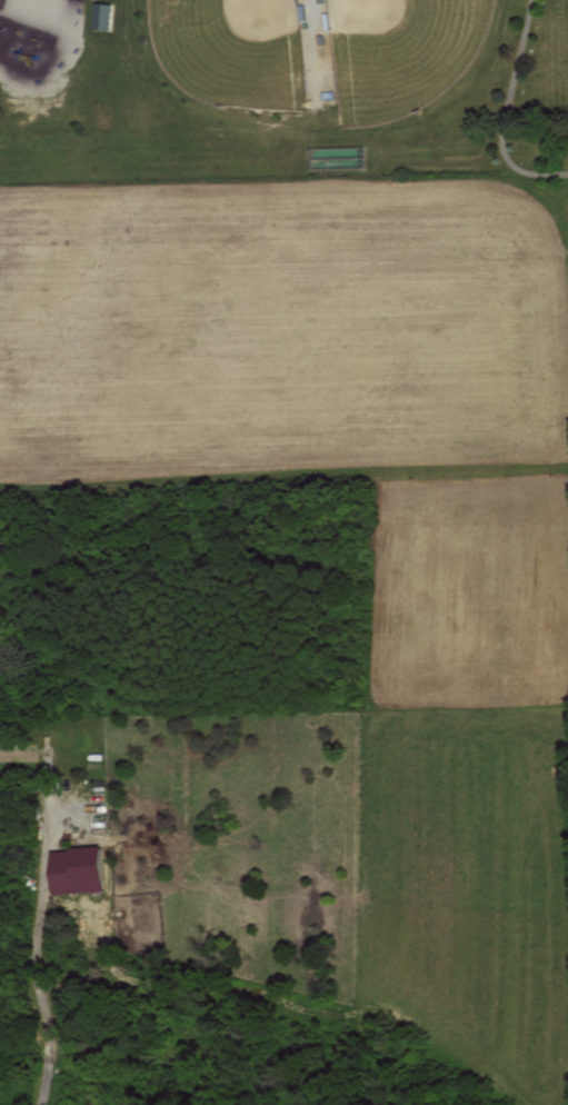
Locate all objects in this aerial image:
building: (100, 14)
park: (231, 49)
park: (399, 52)
road: (504, 111)
building: (73, 868)
road: (47, 1002)

